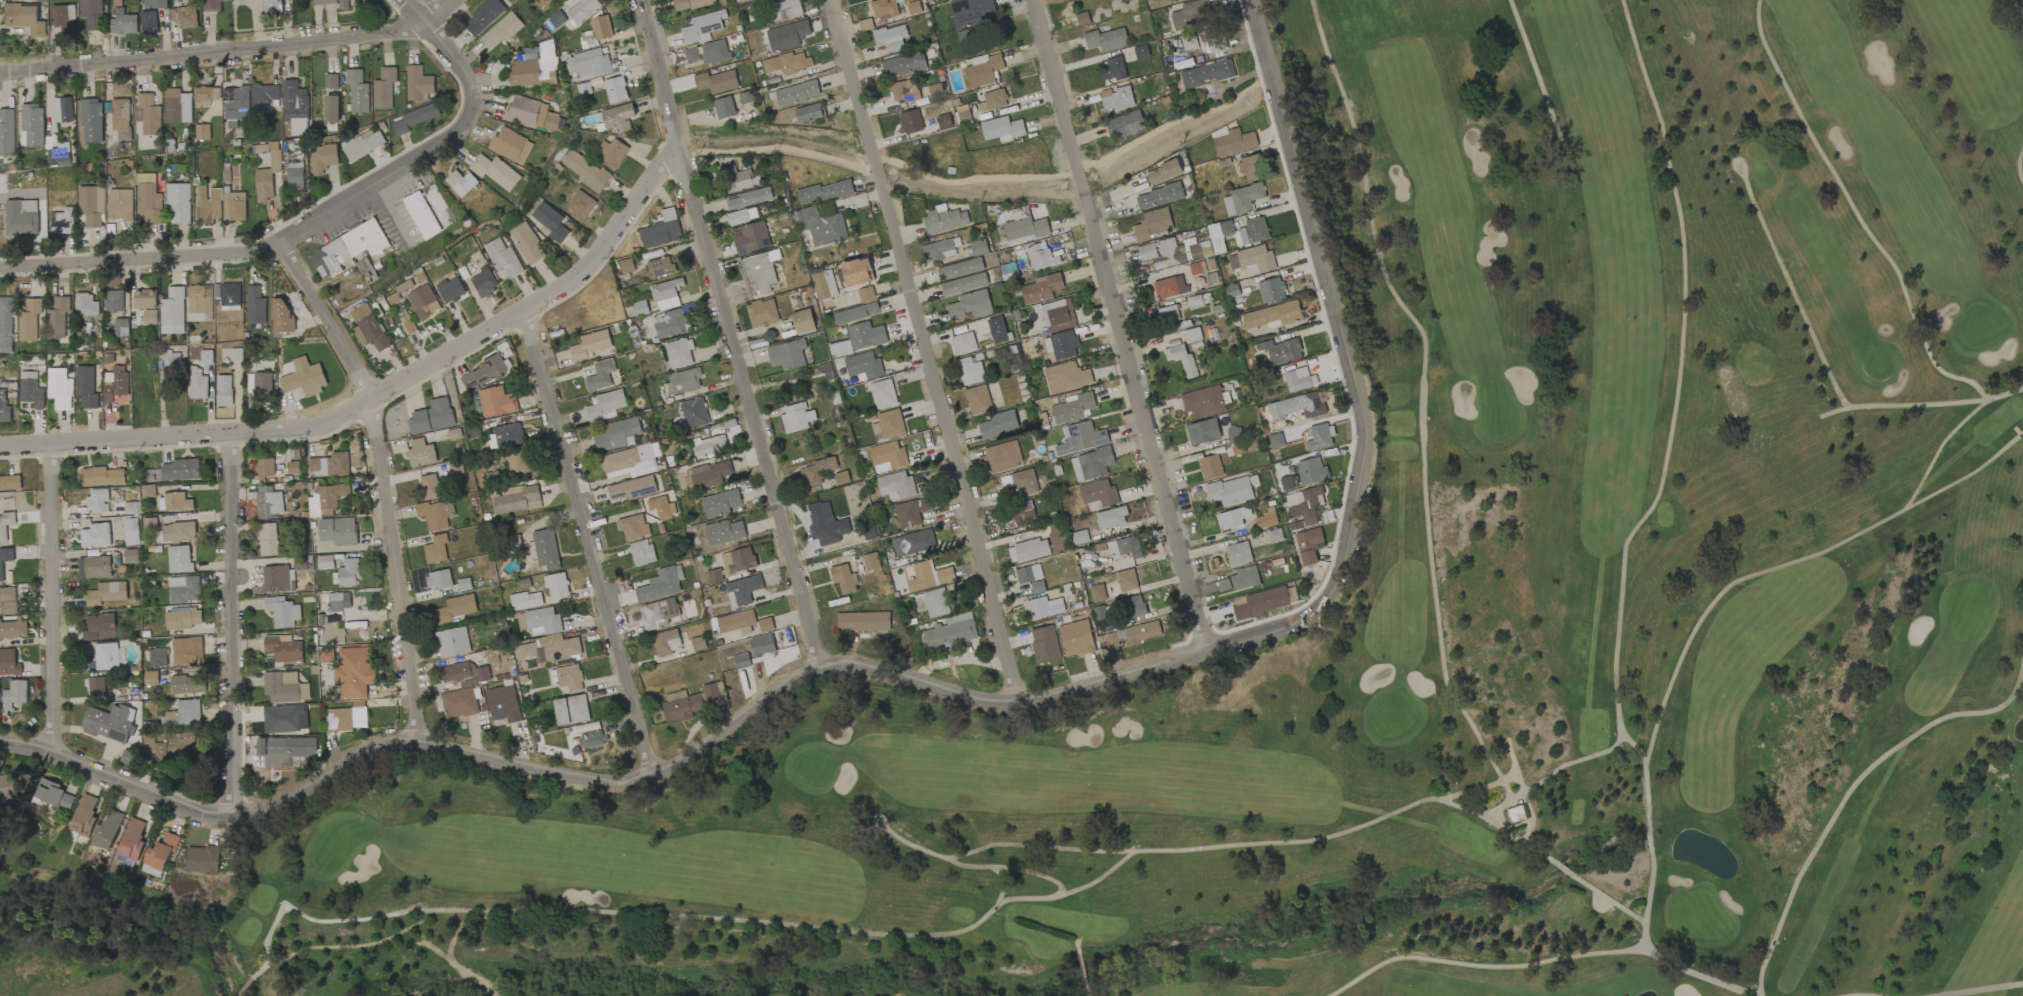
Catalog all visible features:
building: (332, 3)
building: (154, 4)
building: (689, 4)
building: (211, 5)
building: (271, 6)
building: (786, 9)
building: (884, 9)
road: (416, 11)
building: (971, 12)
building: (574, 13)
building: (1191, 13)
building: (91, 14)
building: (184, 16)
building: (483, 16)
building: (24, 19)
building: (62, 22)
building: (123, 22)
building: (148, 23)
building: (865, 24)
building: (701, 28)
building: (501, 30)
building: (596, 31)
building: (967, 35)
building: (891, 37)
building: (1105, 40)
building: (1212, 41)
building: (1188, 42)
road: (231, 50)
building: (715, 51)
building: (691, 54)
building: (593, 63)
building: (787, 63)
building: (903, 65)
building: (532, 68)
building: (1111, 69)
building: (983, 70)
road: (659, 71)
building: (1207, 73)
building: (330, 81)
building: (716, 82)
building: (417, 83)
building: (384, 88)
building: (615, 90)
building: (357, 91)
building: (904, 91)
building: (797, 93)
building: (265, 94)
building: (204, 95)
building: (1115, 99)
building: (993, 100)
building: (235, 105)
building: (176, 106)
building: (295, 107)
building: (331, 108)
building: (723, 108)
building: (63, 109)
building: (526, 112)
building: (808, 113)
building: (148, 114)
building: (962, 114)
building: (618, 117)
building: (120, 118)
building: (414, 118)
building: (91, 120)
building: (910, 121)
building: (943, 121)
building: (553, 123)
building: (31, 125)
building: (1124, 125)
building: (1001, 128)
building: (201, 132)
building: (6, 133)
building: (1232, 141)
building: (362, 144)
building: (510, 146)
road: (780, 150)
building: (610, 153)
building: (56, 157)
building: (321, 158)
building: (1249, 168)
building: (586, 171)
building: (1163, 172)
building: (496, 173)
building: (294, 175)
building: (737, 179)
building: (264, 182)
building: (460, 182)
building: (824, 192)
building: (1159, 196)
building: (749, 198)
building: (147, 199)
building: (1242, 199)
building: (177, 203)
building: (119, 204)
building: (207, 204)
building: (90, 206)
building: (233, 206)
building: (580, 206)
building: (428, 211)
building: (741, 216)
building: (21, 217)
building: (61, 221)
building: (550, 221)
building: (944, 221)
building: (1153, 224)
building: (819, 226)
building: (661, 230)
building: (1025, 230)
building: (1237, 233)
building: (751, 238)
road: (306, 239)
building: (526, 243)
building: (978, 247)
building: (349, 248)
building: (938, 250)
building: (1162, 253)
building: (1040, 257)
building: (502, 258)
building: (1255, 259)
building: (626, 266)
building: (661, 267)
building: (1194, 268)
building: (959, 269)
building: (366, 270)
building: (759, 272)
building: (857, 272)
building: (483, 284)
building: (963, 284)
building: (823, 285)
building: (403, 286)
building: (1170, 287)
building: (450, 289)
building: (1041, 289)
building: (1270, 290)
building: (230, 294)
building: (666, 294)
building: (865, 295)
building: (113, 300)
building: (422, 301)
building: (199, 303)
building: (146, 304)
building: (86, 305)
building: (255, 305)
building: (970, 306)
building: (640, 308)
building: (172, 311)
building: (359, 312)
building: (762, 312)
building: (855, 313)
building: (1056, 313)
building: (1167, 314)
building: (281, 315)
building: (1272, 315)
building: (57, 317)
building: (28, 320)
building: (802, 321)
building: (670, 322)
building: (407, 324)
building: (6, 325)
building: (120, 328)
road: (1123, 329)
building: (997, 330)
building: (372, 332)
building: (1193, 338)
building: (859, 339)
building: (963, 343)
building: (1063, 344)
building: (591, 345)
road: (928, 350)
building: (1280, 351)
building: (679, 353)
building: (787, 354)
building: (206, 357)
building: (1180, 357)
building: (171, 359)
building: (863, 365)
building: (970, 371)
building: (484, 372)
building: (600, 375)
building: (303, 377)
building: (1066, 377)
building: (1299, 379)
building: (684, 380)
building: (115, 383)
building: (197, 383)
building: (260, 383)
building: (85, 387)
building: (59, 388)
building: (30, 390)
building: (223, 390)
building: (883, 394)
road: (388, 398)
building: (977, 399)
building: (496, 402)
building: (1203, 402)
building: (605, 404)
road: (753, 404)
building: (1296, 406)
building: (1072, 407)
building: (4, 408)
building: (691, 414)
building: (431, 416)
building: (794, 417)
building: (888, 424)
building: (998, 424)
building: (1202, 432)
building: (616, 434)
building: (506, 436)
building: (1080, 438)
building: (1318, 438)
building: (710, 445)
building: (420, 453)
building: (887, 457)
building: (1000, 457)
building: (625, 458)
building: (518, 461)
building: (1091, 464)
building: (328, 465)
building: (264, 467)
building: (1210, 467)
building: (292, 468)
building: (180, 470)
building: (1311, 471)
building: (816, 472)
building: (709, 474)
building: (101, 477)
building: (841, 477)
road: (389, 480)
building: (1019, 482)
building: (10, 483)
building: (895, 485)
building: (430, 487)
building: (632, 488)
building: (1230, 491)
building: (1098, 495)
building: (326, 498)
building: (516, 499)
building: (97, 500)
building: (177, 502)
building: (268, 503)
building: (720, 503)
building: (1304, 504)
building: (661, 507)
building: (131, 508)
building: (912, 511)
building: (1021, 512)
building: (435, 514)
building: (1111, 518)
building: (1233, 518)
building: (1265, 519)
building: (5, 526)
building: (825, 526)
building: (632, 527)
building: (131, 531)
building: (178, 531)
building: (338, 531)
building: (723, 532)
building: (96, 535)
building: (267, 539)
building: (913, 542)
building: (1308, 545)
building: (1124, 548)
building: (435, 549)
building: (545, 549)
road: (593, 550)
building: (1028, 550)
building: (642, 553)
building: (1237, 553)
building: (131, 556)
building: (178, 559)
building: (5, 560)
building: (737, 560)
building: (870, 561)
building: (325, 562)
building: (97, 567)
building: (348, 573)
building: (1027, 574)
building: (929, 576)
building: (275, 578)
building: (438, 579)
building: (843, 579)
building: (1239, 579)
building: (1126, 580)
building: (463, 584)
building: (556, 584)
building: (661, 584)
building: (1037, 586)
building: (183, 589)
building: (742, 590)
building: (106, 593)
building: (1097, 593)
road: (53, 597)
building: (525, 600)
building: (7, 601)
building: (335, 602)
building: (935, 602)
building: (1259, 603)
building: (1134, 606)
building: (1044, 607)
building: (455, 609)
building: (282, 611)
building: (659, 612)
park: (1390, 613)
building: (182, 618)
building: (520, 621)
building: (542, 621)
building: (862, 621)
building: (736, 622)
building: (765, 625)
building: (99, 627)
road: (236, 627)
building: (13, 629)
building: (950, 632)
building: (1133, 634)
building: (1075, 638)
building: (452, 642)
building: (663, 642)
building: (697, 643)
building: (761, 645)
building: (1044, 645)
building: (283, 648)
building: (548, 649)
building: (186, 650)
building: (107, 656)
building: (157, 656)
building: (741, 661)
building: (8, 663)
building: (354, 672)
building: (464, 673)
building: (569, 677)
building: (150, 678)
building: (184, 684)
building: (97, 687)
building: (284, 687)
road: (944, 687)
building: (14, 694)
building: (688, 702)
building: (458, 703)
building: (503, 704)
building: (570, 709)
building: (184, 713)
building: (284, 719)
building: (345, 719)
building: (108, 723)
building: (592, 738)
building: (169, 745)
building: (286, 751)
building: (7, 786)
building: (52, 794)
building: (1513, 814)
building: (84, 815)
building: (107, 829)
building: (132, 838)
building: (162, 852)
building: (202, 859)
building: (151, 871)

